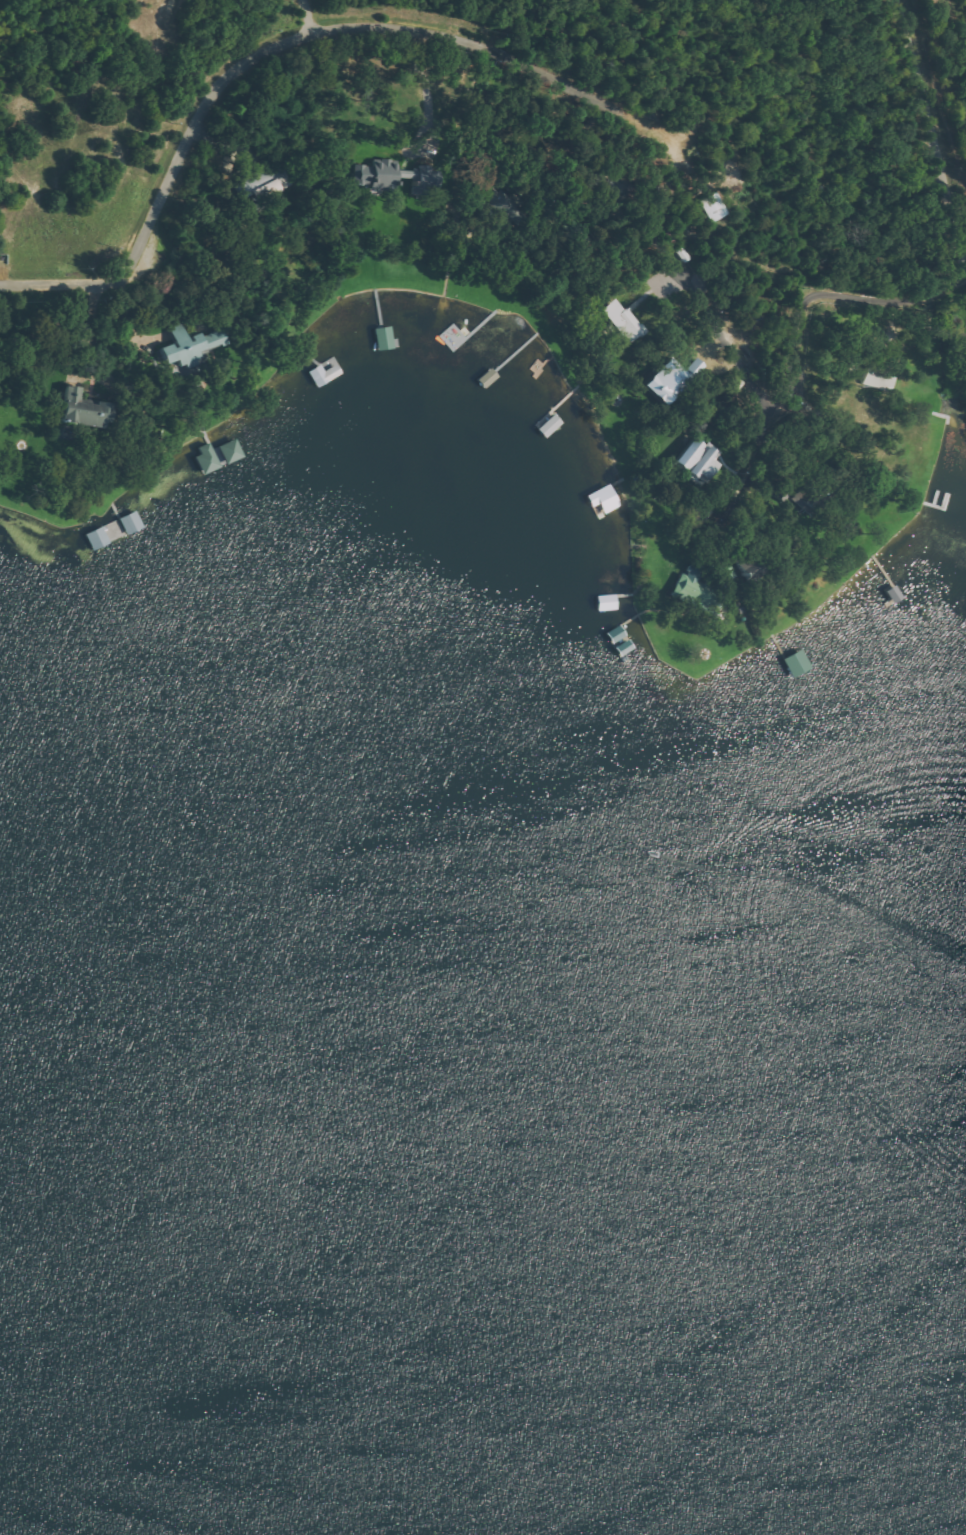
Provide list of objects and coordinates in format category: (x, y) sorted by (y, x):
road: (455, 38)
road: (928, 111)
building: (396, 177)
building: (263, 183)
road: (166, 188)
building: (501, 203)
building: (716, 206)
road: (964, 220)
road: (797, 309)
building: (623, 321)
building: (190, 346)
building: (879, 377)
building: (668, 380)
building: (85, 410)
building: (698, 460)
building: (604, 499)

